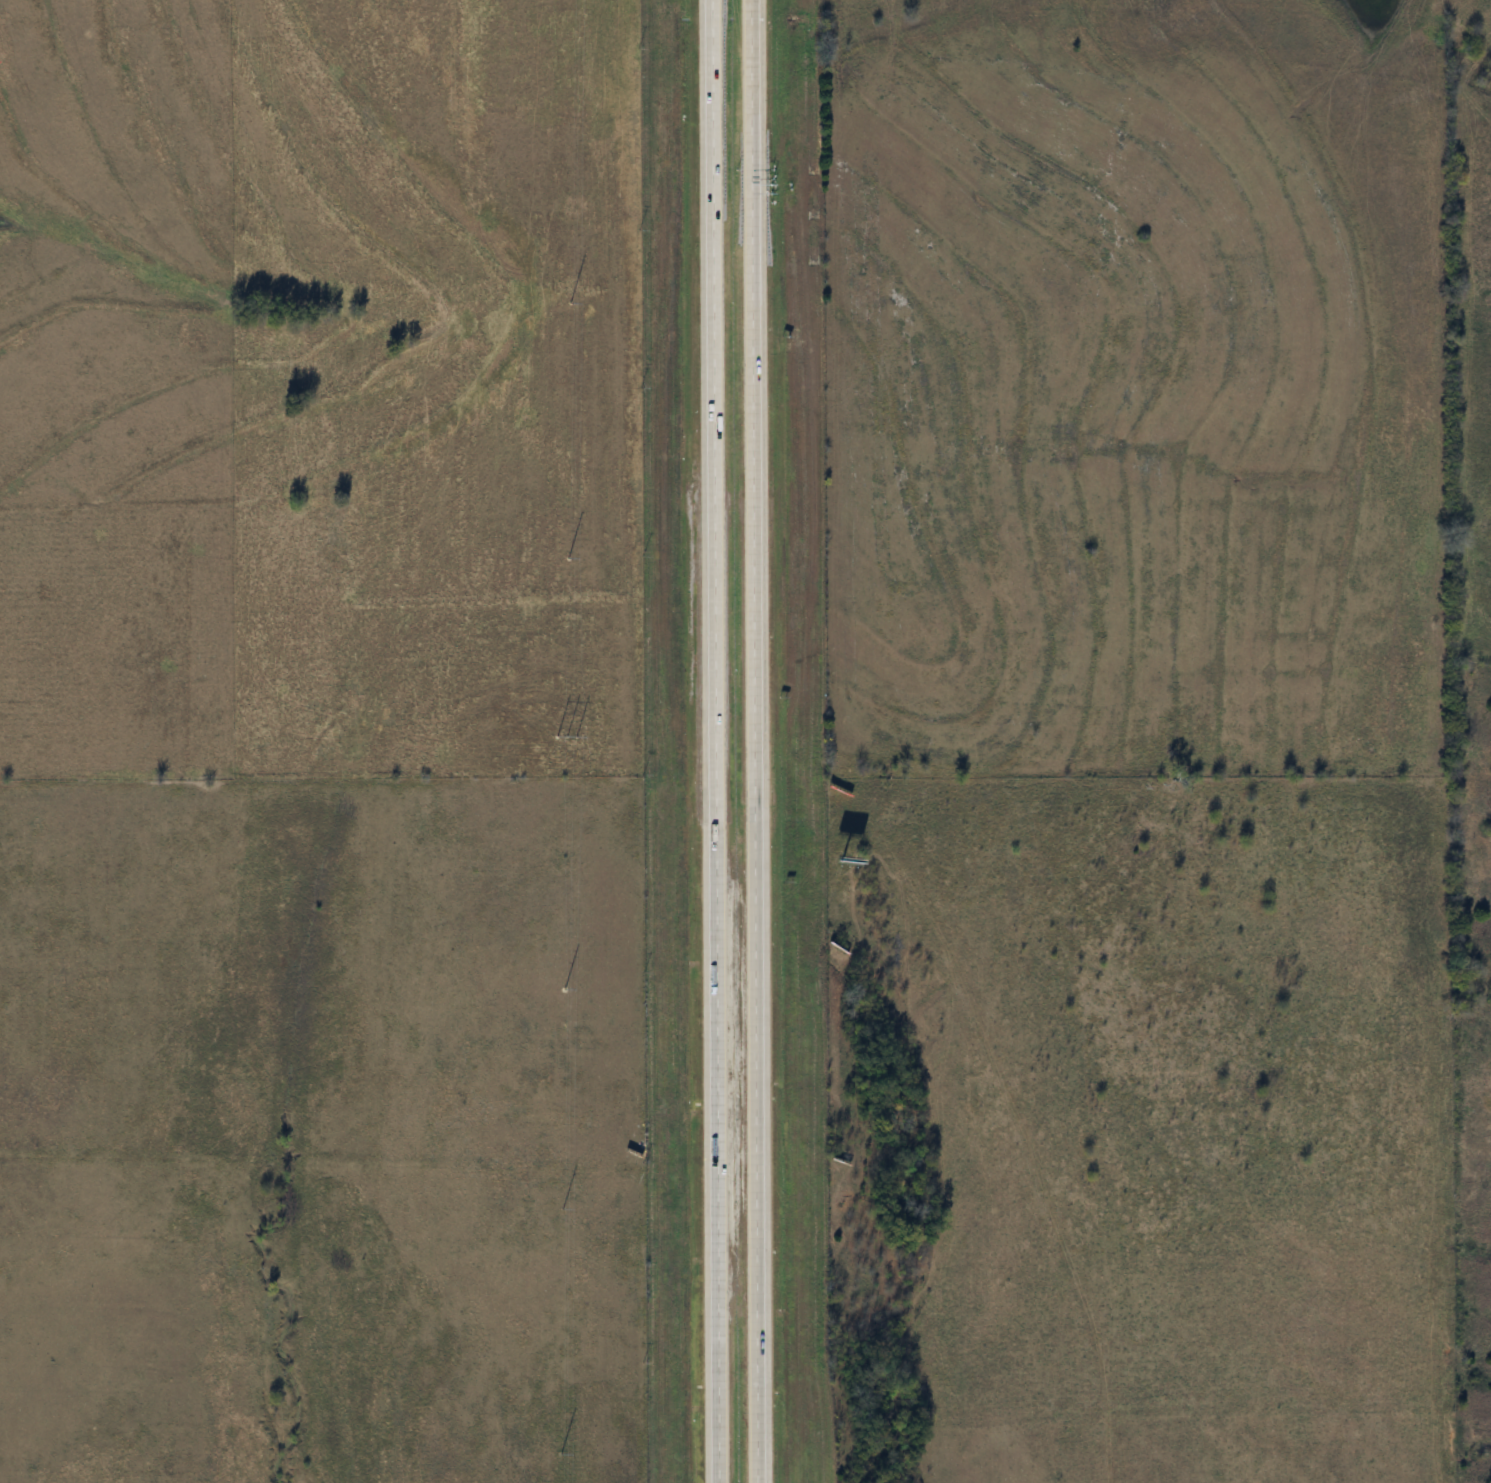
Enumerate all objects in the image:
road: (706, 741)
road: (745, 741)

